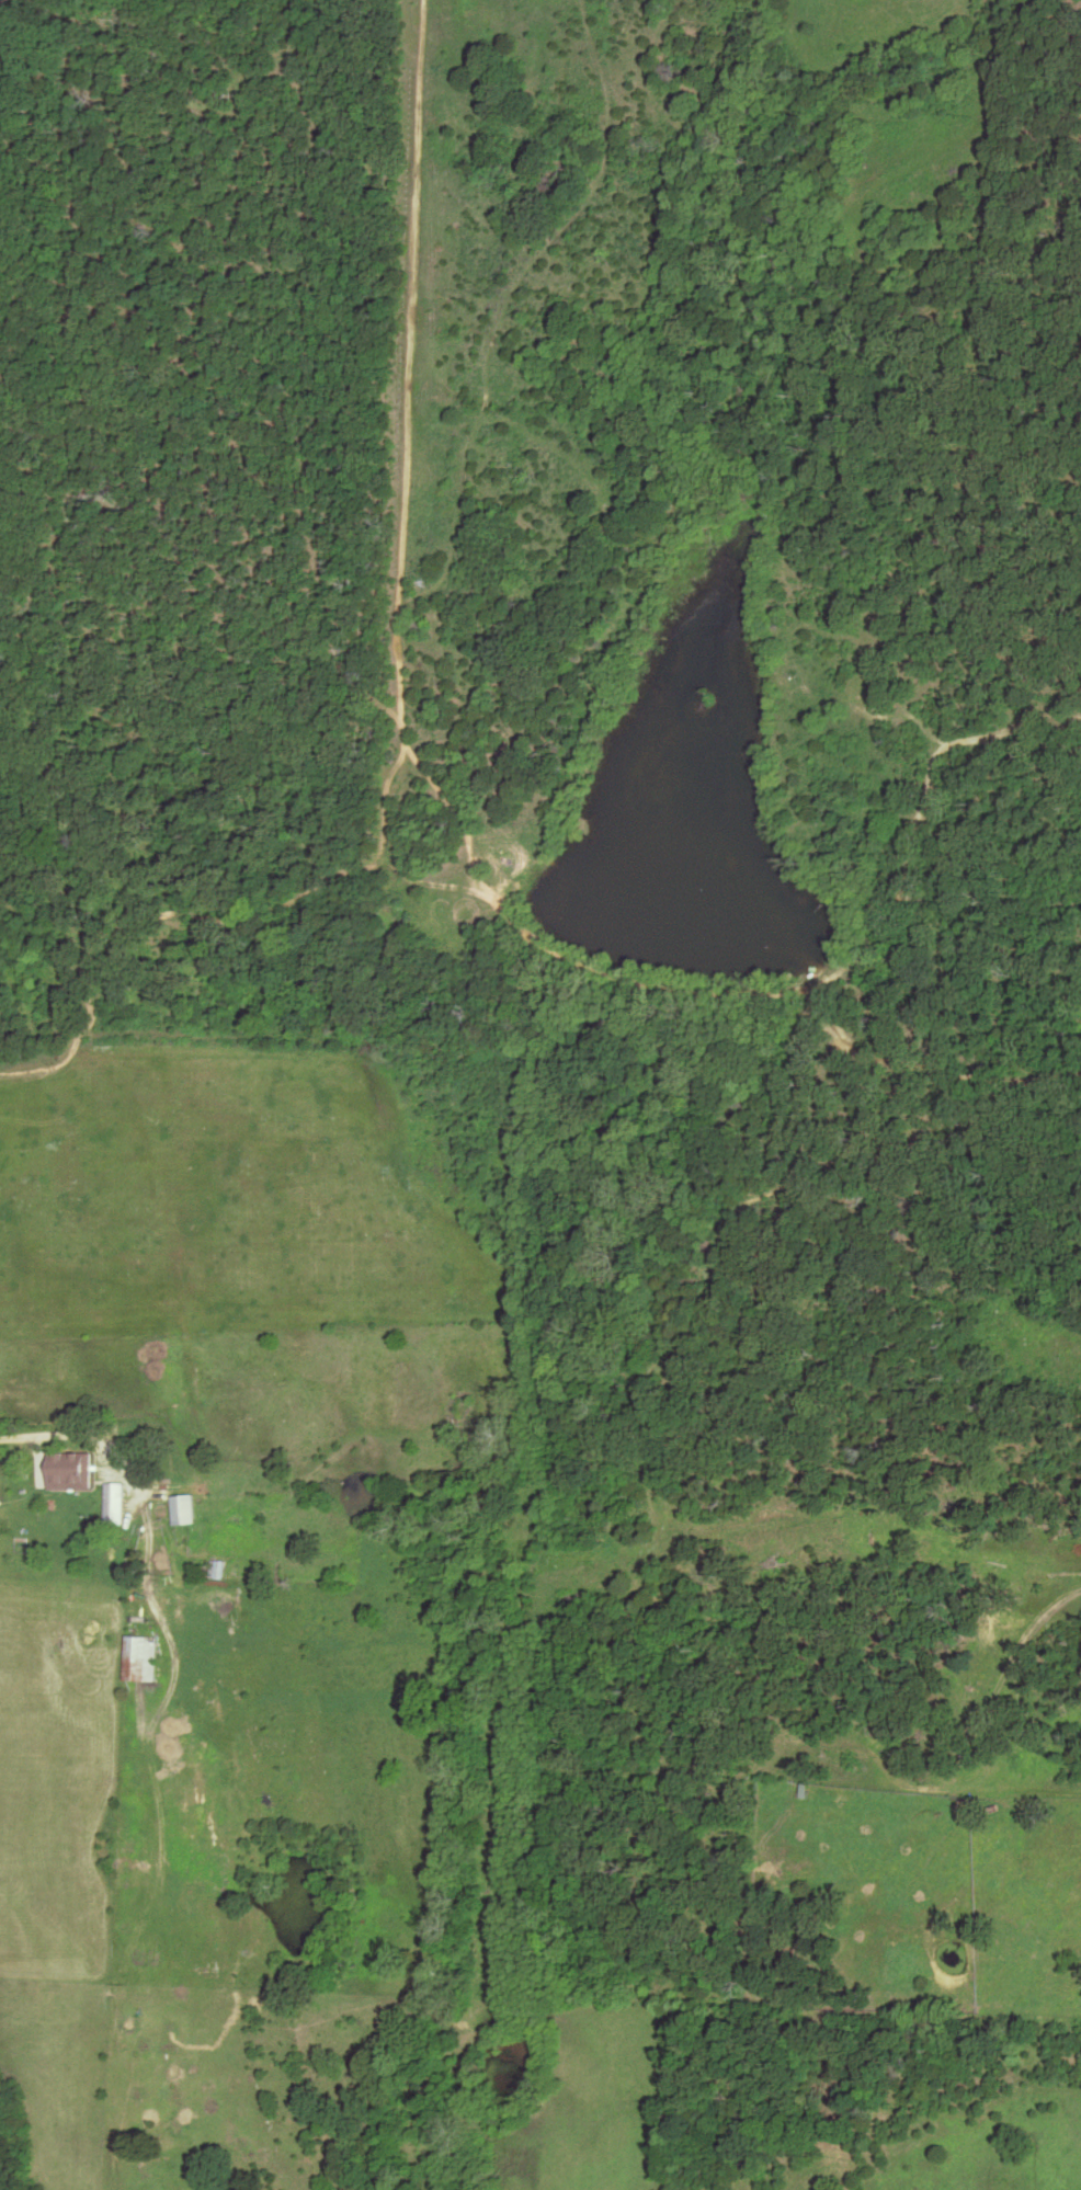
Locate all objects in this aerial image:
building: (73, 1470)
building: (115, 1503)
building: (186, 1508)
building: (218, 1569)
building: (143, 1657)

